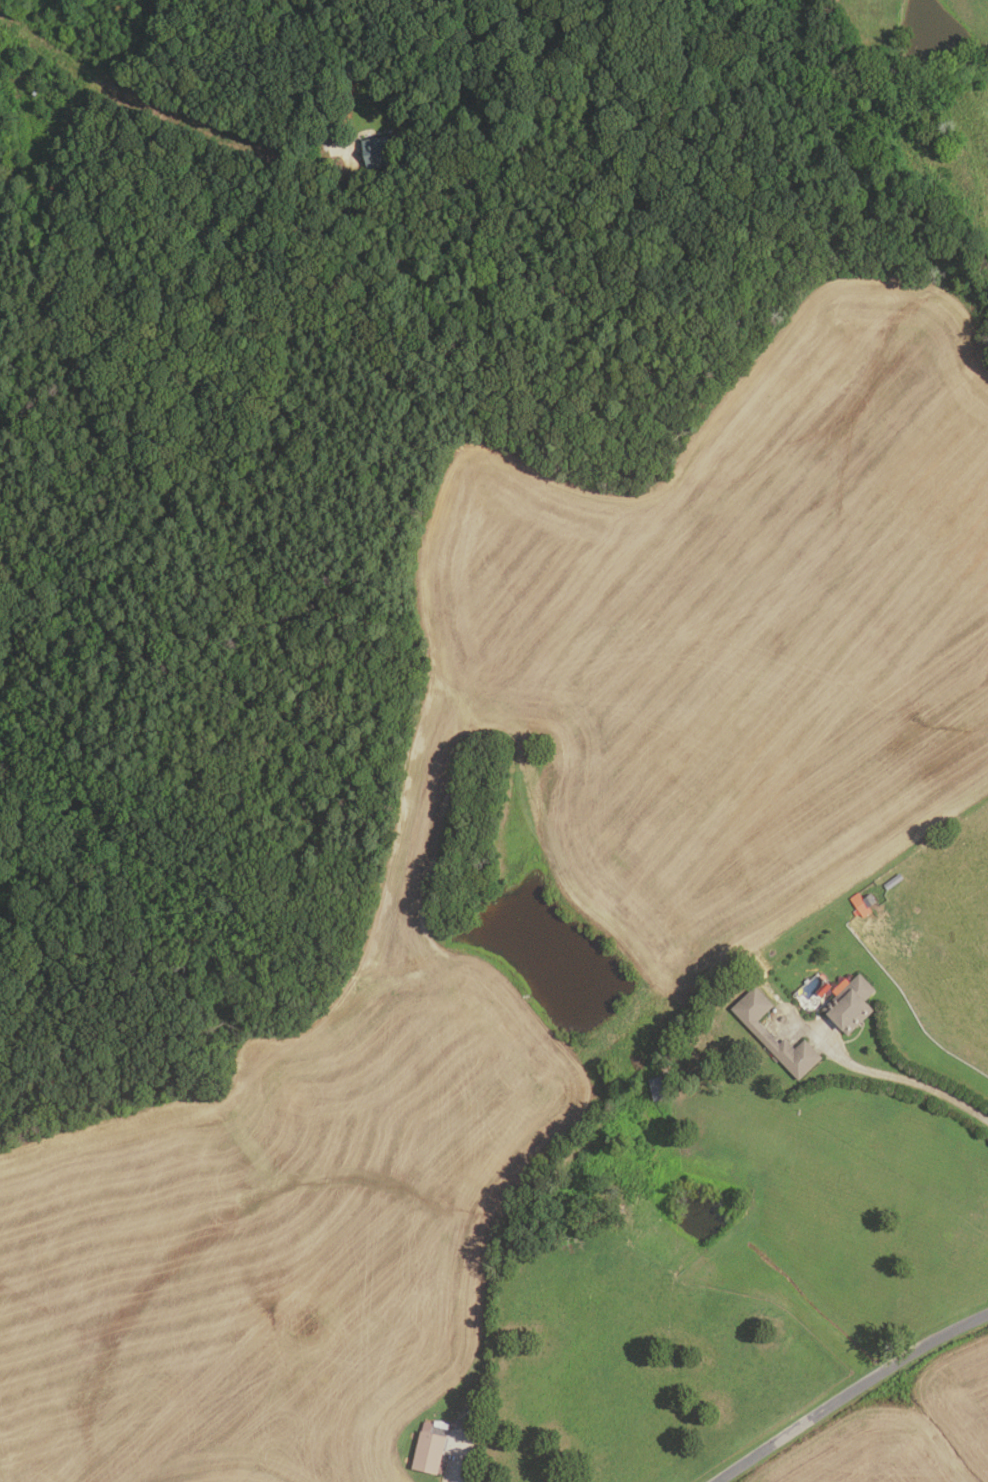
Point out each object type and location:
road: (349, 62)
building: (377, 152)
building: (892, 880)
building: (862, 903)
building: (849, 1003)
building: (757, 1029)
road: (886, 1075)
building: (655, 1088)
road: (848, 1392)
building: (426, 1452)
road: (474, 1462)

